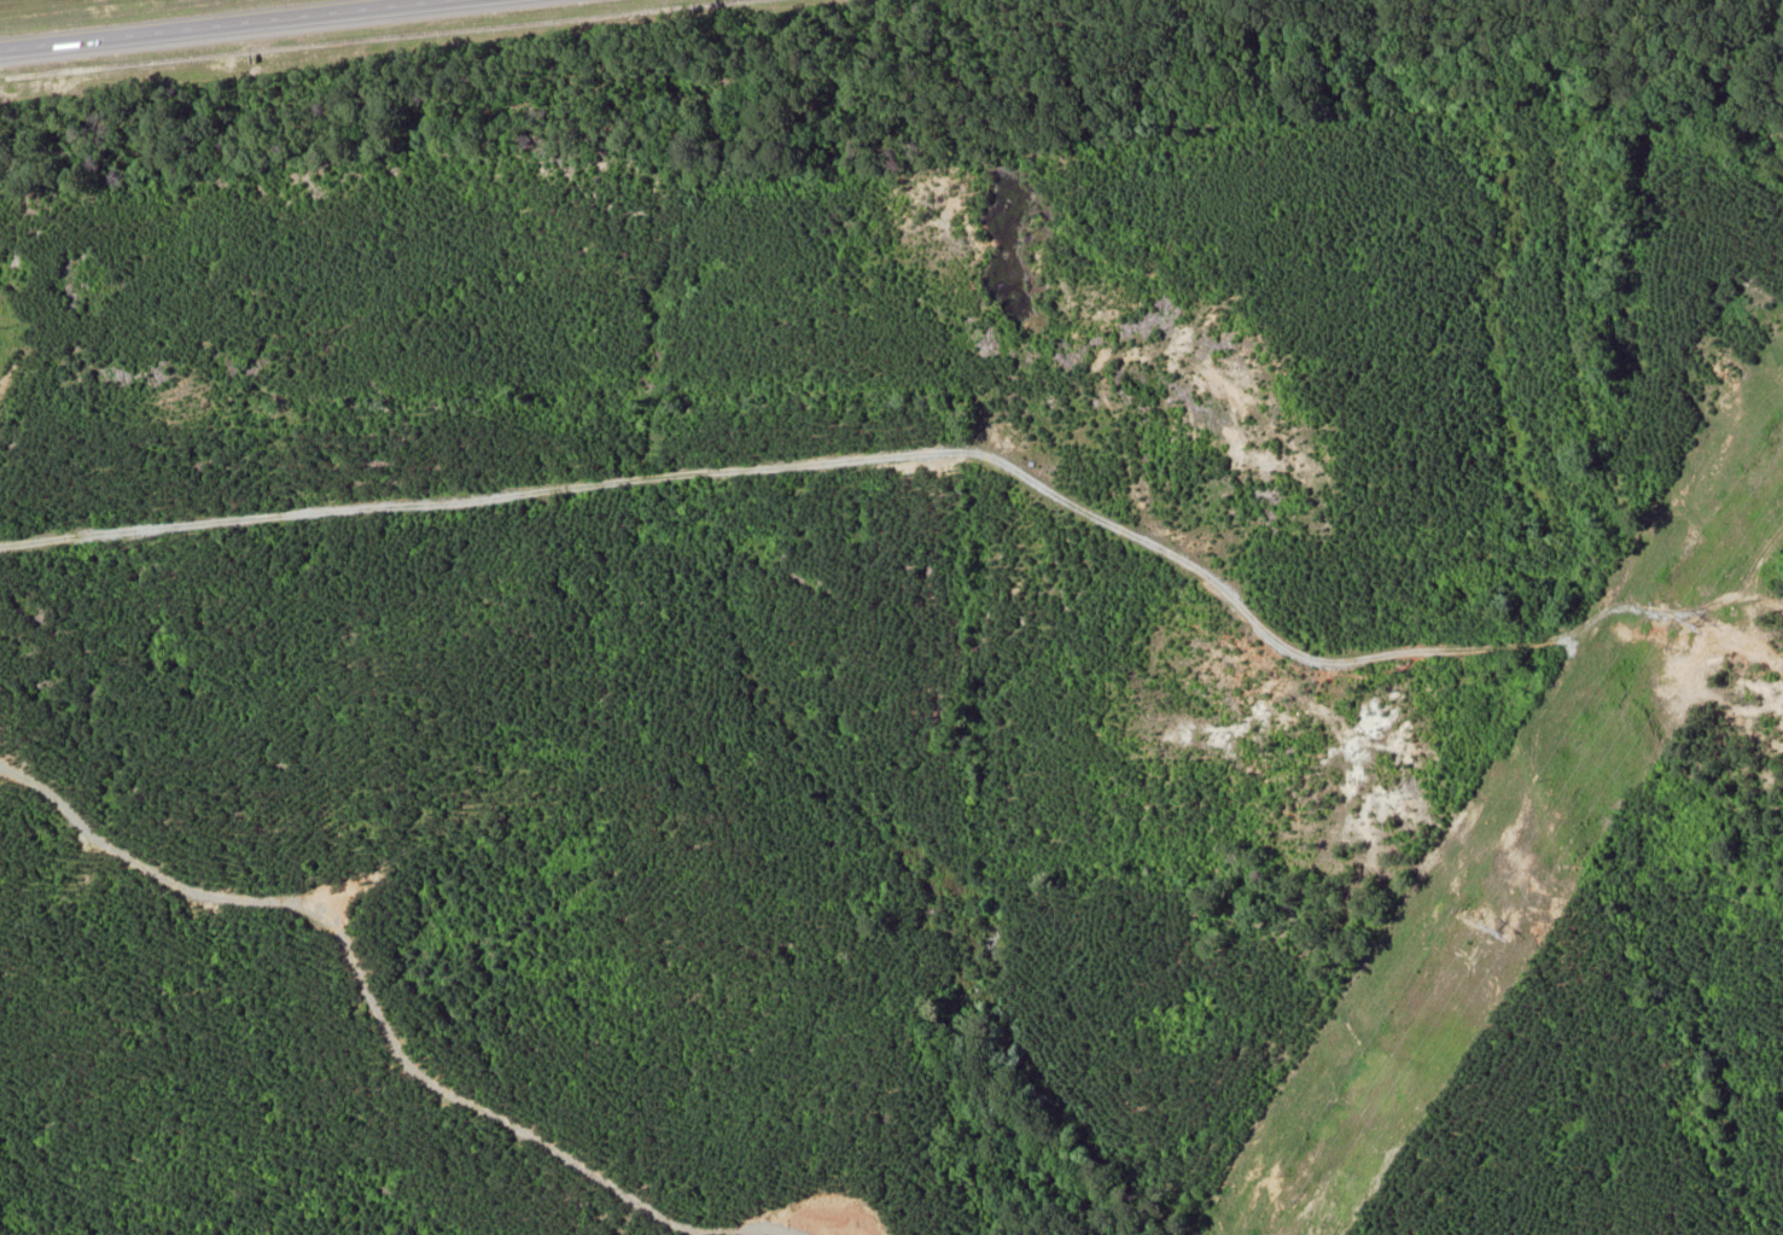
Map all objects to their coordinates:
road: (205, 23)
road: (578, 532)
power tower: (1697, 624)
power tower: (1498, 932)

